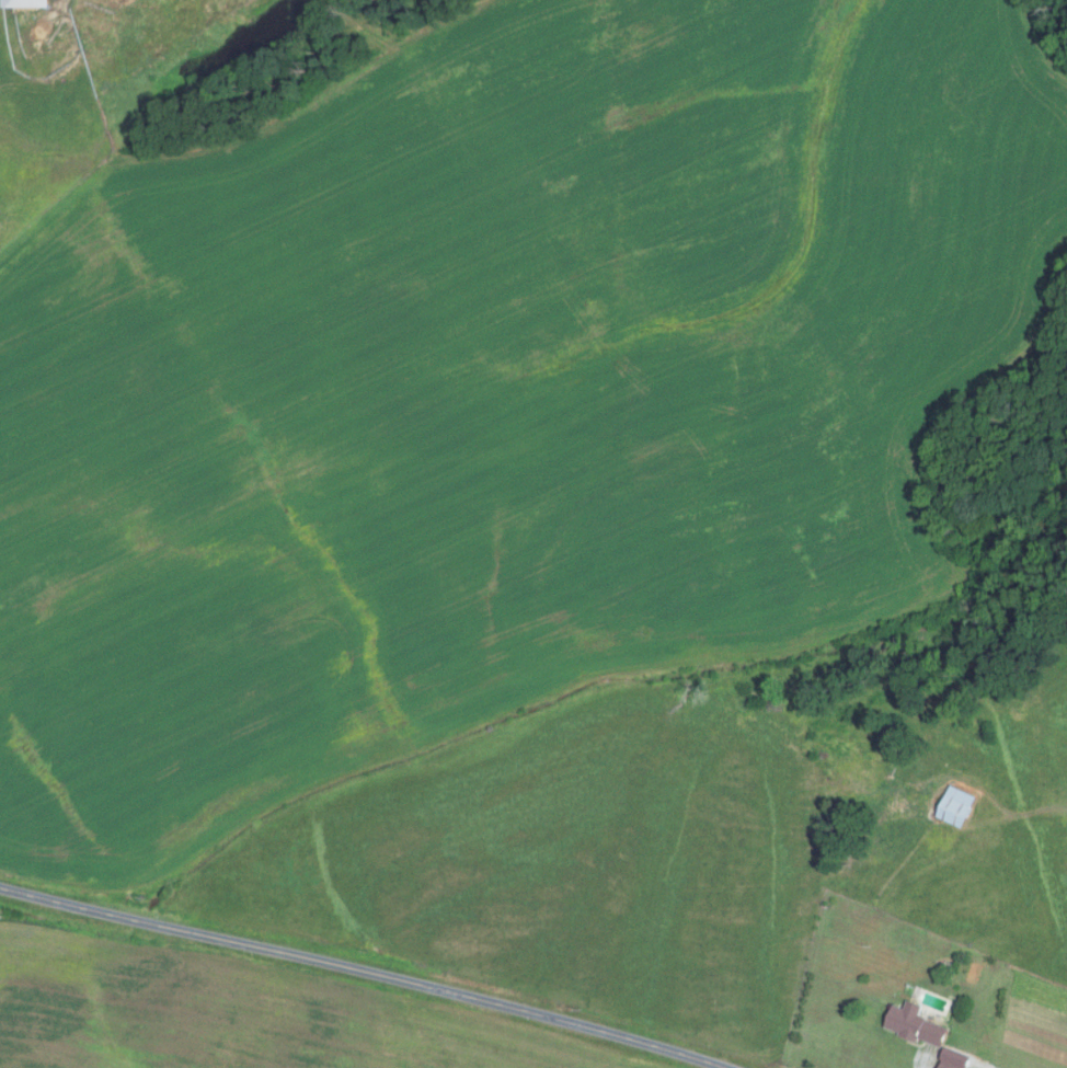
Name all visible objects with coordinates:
building: (21, 3)
building: (953, 805)
road: (365, 969)
building: (913, 1024)
building: (952, 1059)
building: (945, 1065)

